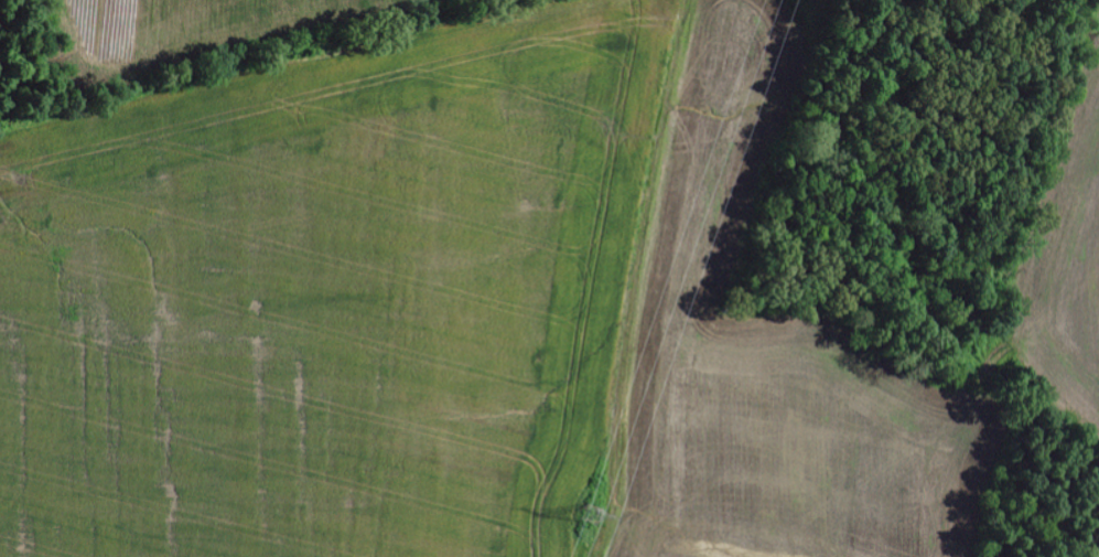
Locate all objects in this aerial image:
power tower: (583, 516)

